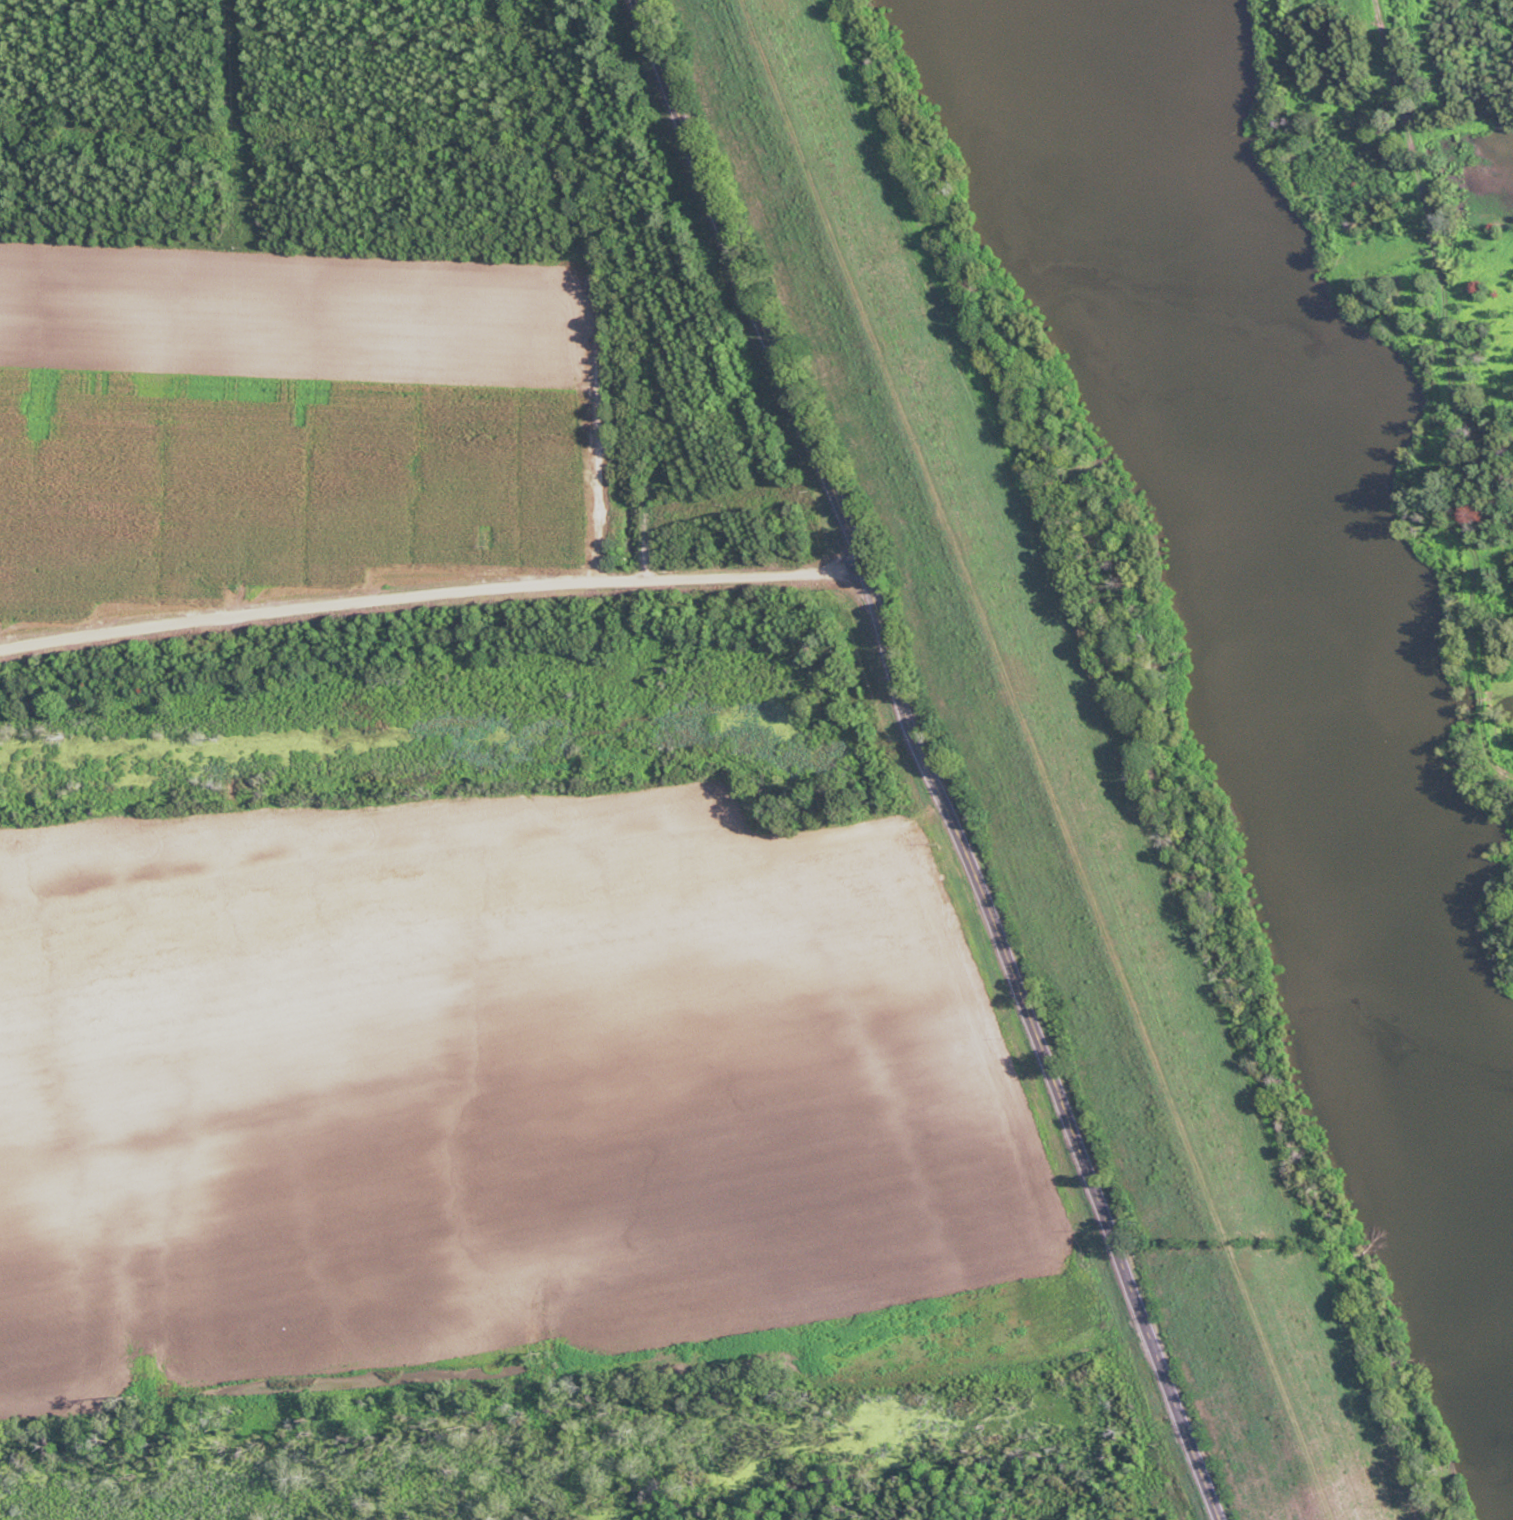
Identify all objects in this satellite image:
road: (1451, 395)
road: (425, 595)
road: (928, 757)
road: (1035, 759)

